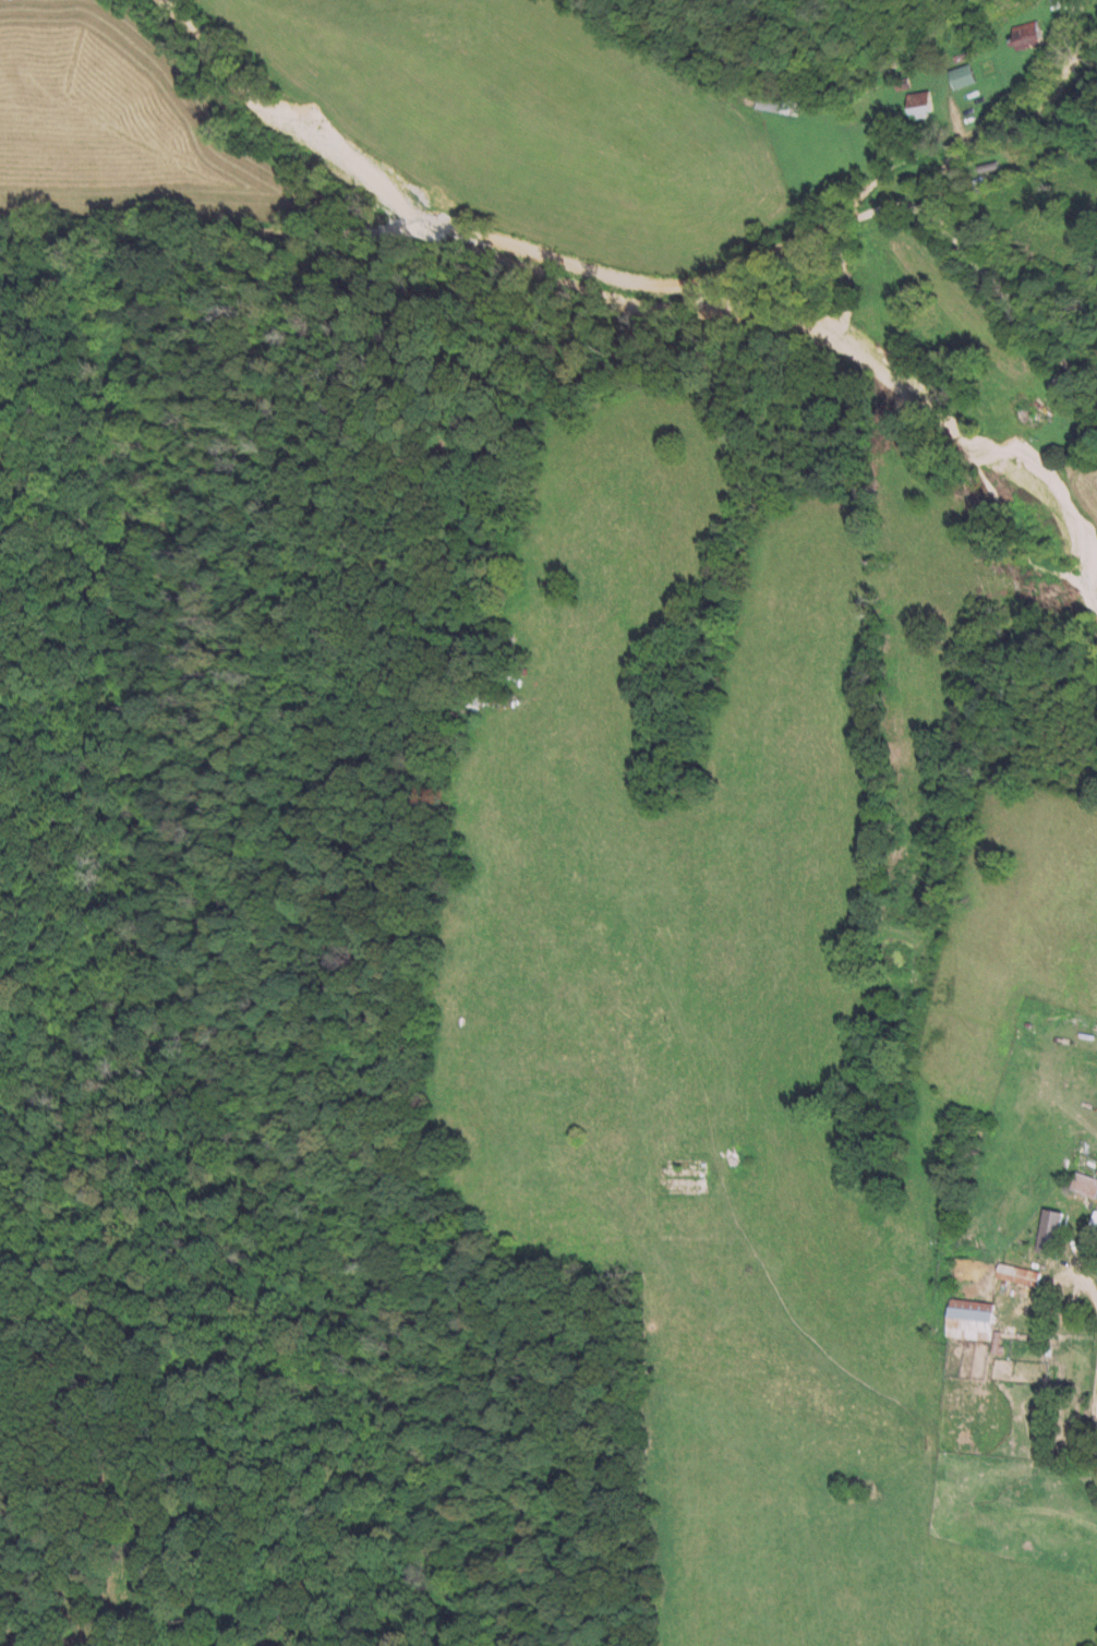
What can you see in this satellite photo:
building: (1020, 34)
building: (956, 75)
building: (914, 103)
road: (623, 279)
building: (1082, 1182)
building: (1042, 1229)
building: (1012, 1273)
road: (1082, 1277)
road: (1094, 1421)

